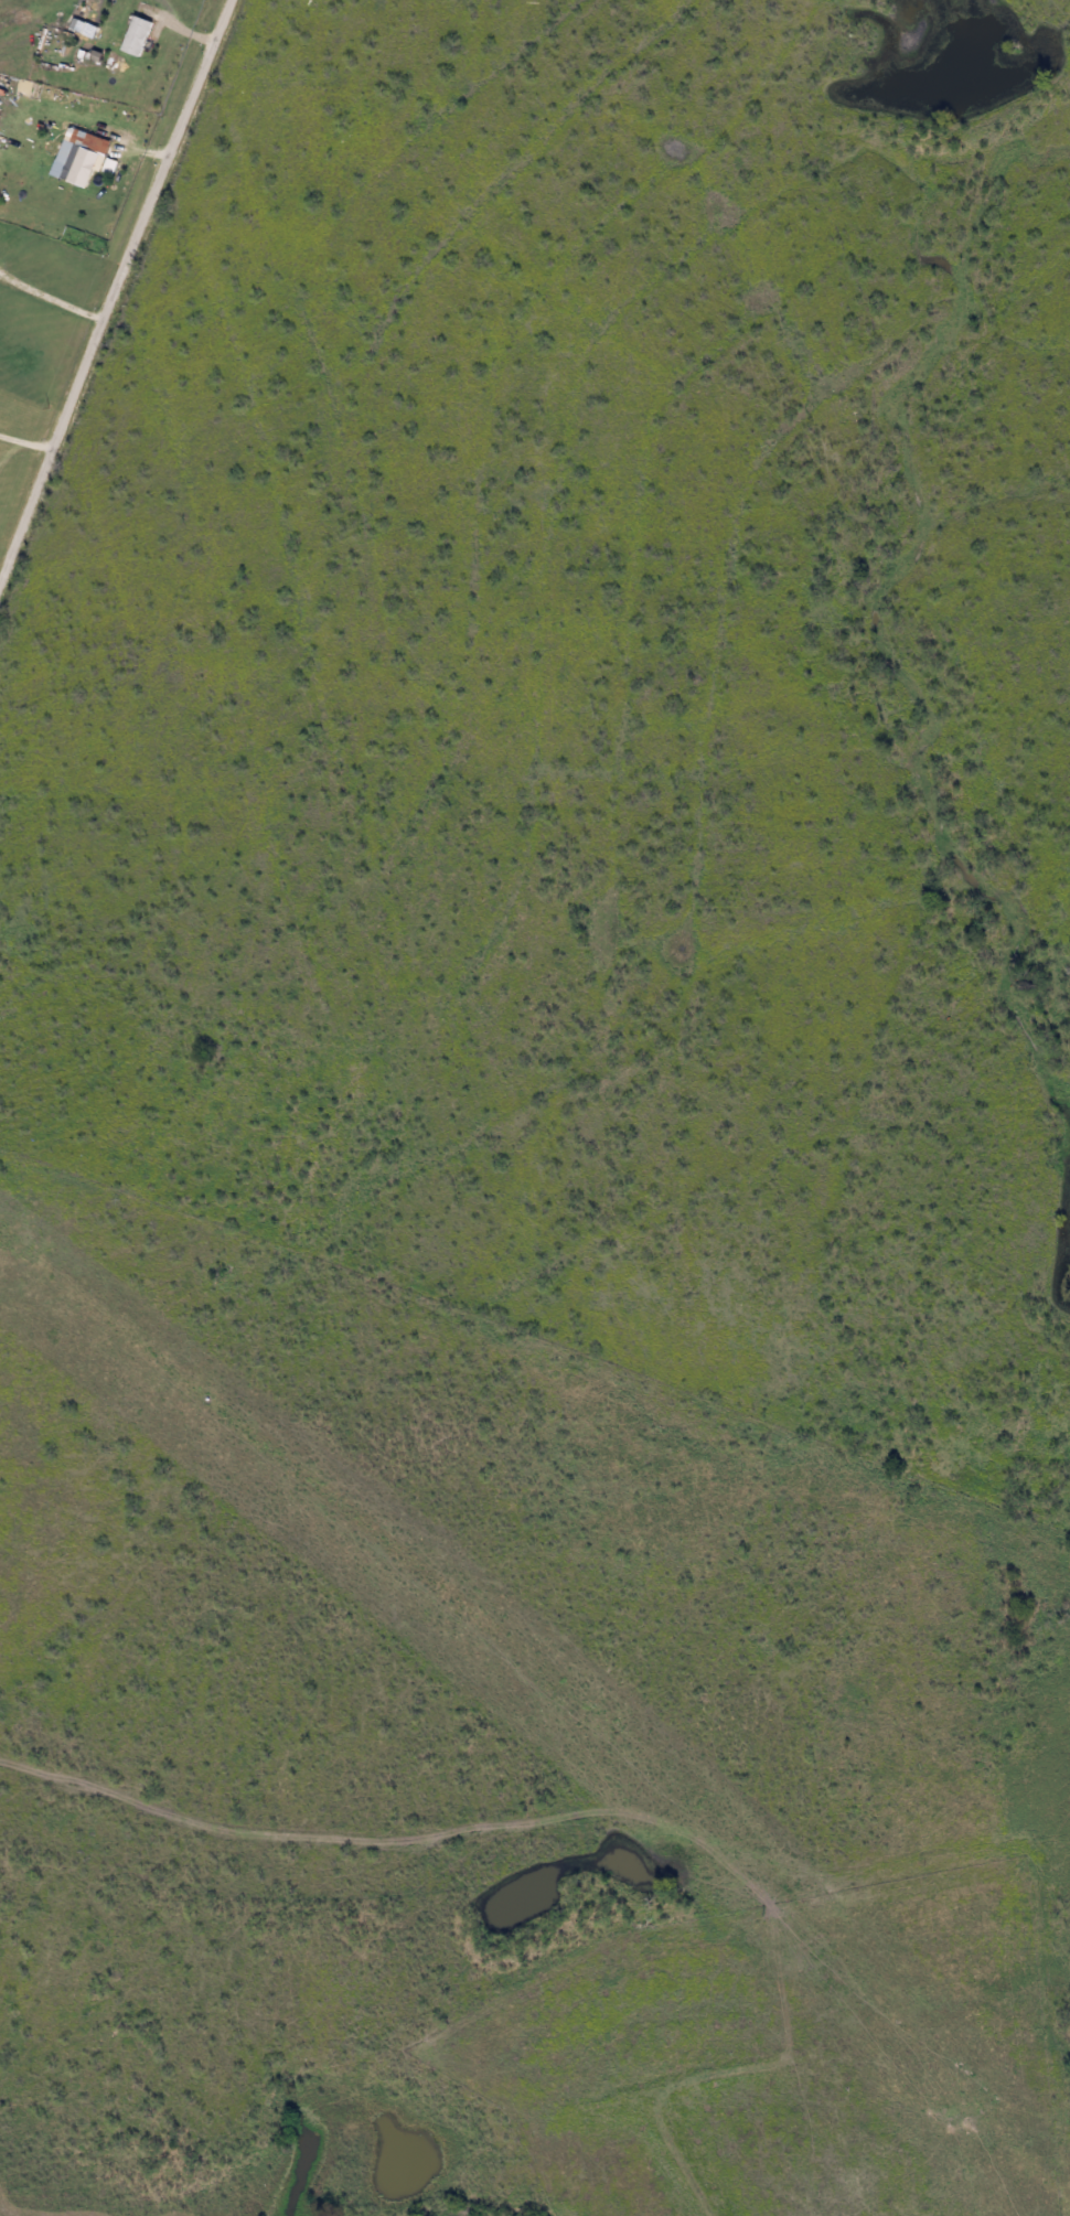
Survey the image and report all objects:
building: (138, 36)
road: (118, 296)
road: (53, 299)

